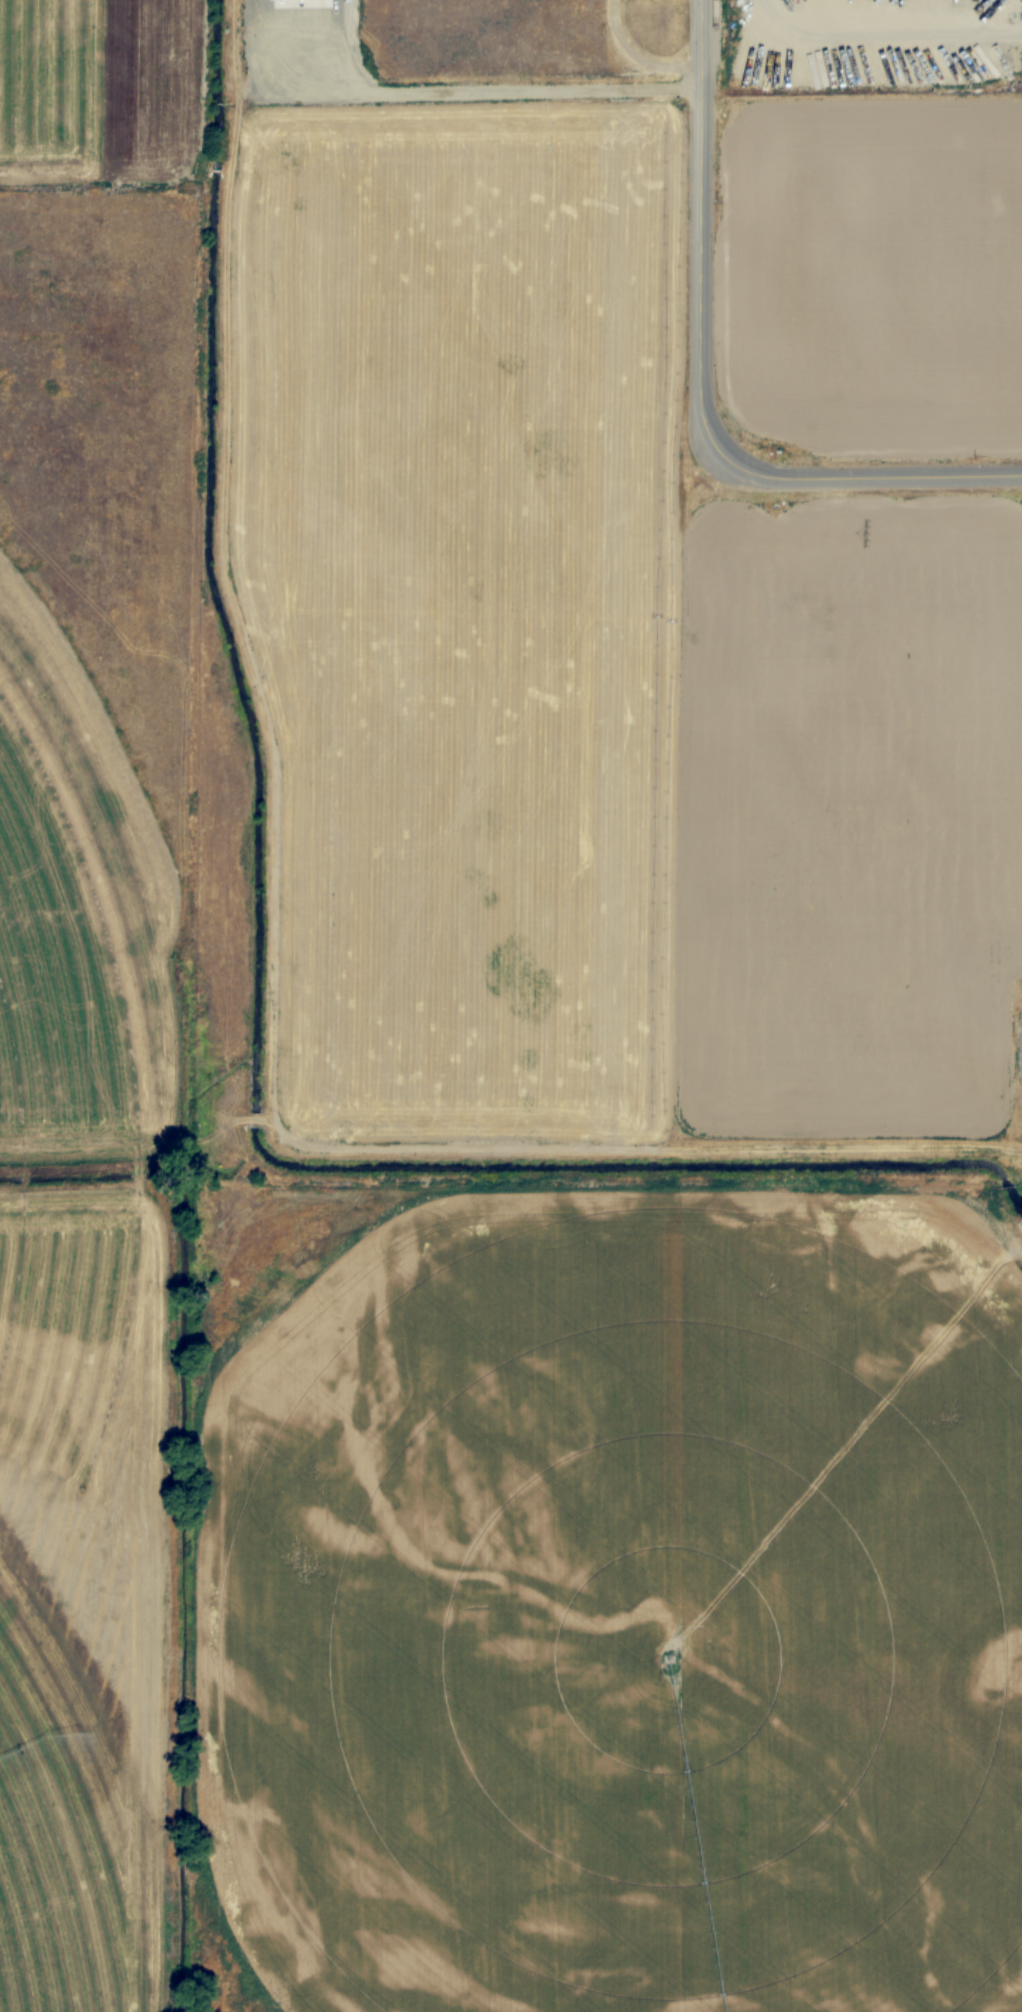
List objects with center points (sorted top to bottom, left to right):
road: (699, 215)
road: (854, 476)
crop: (507, 1038)

